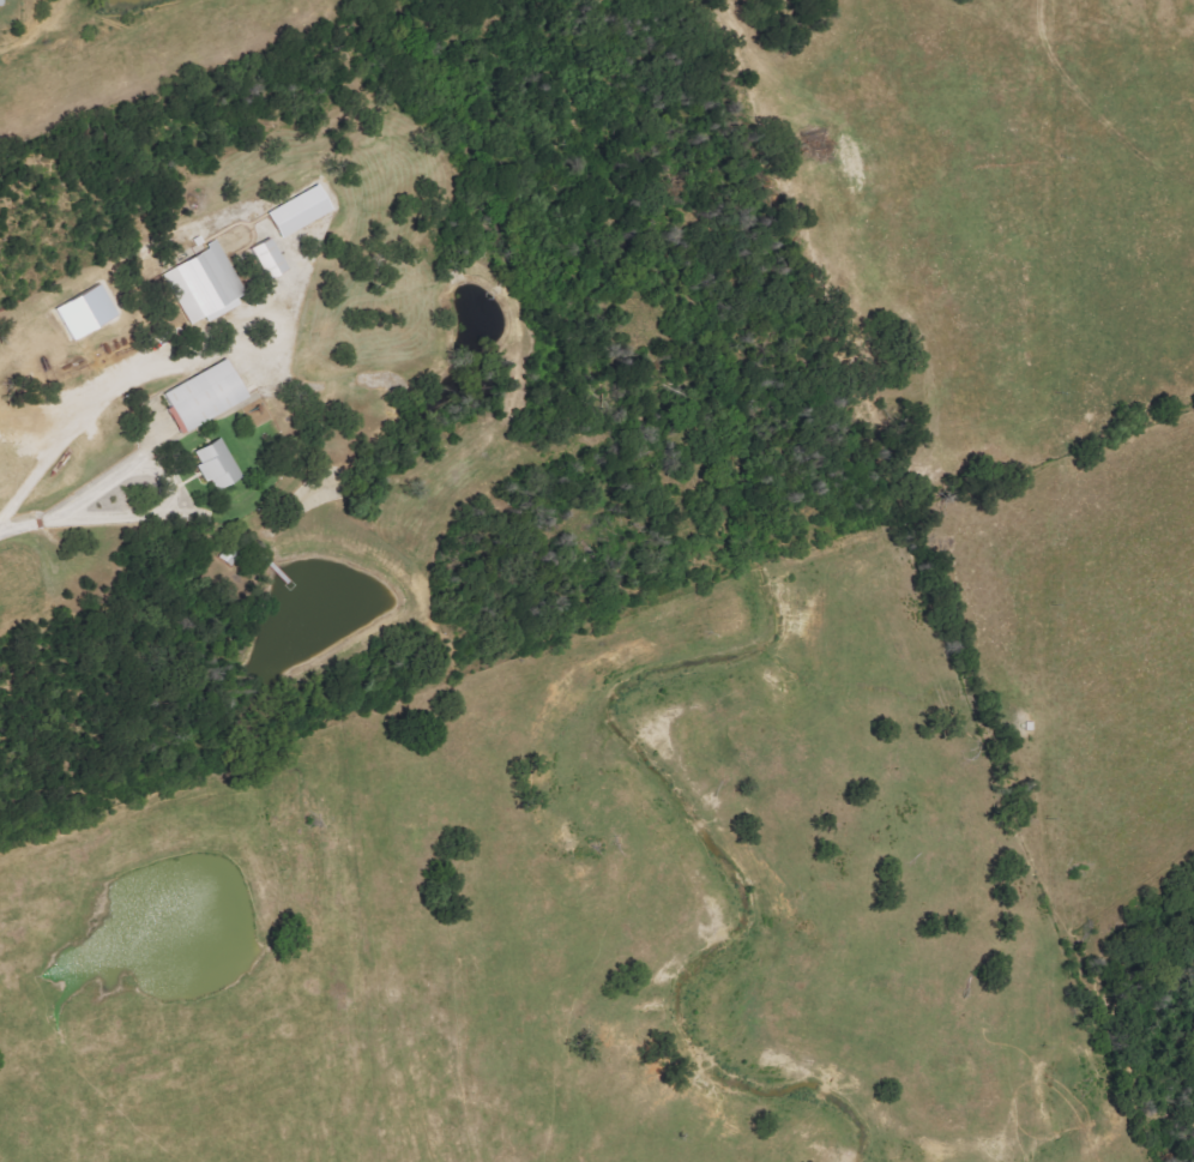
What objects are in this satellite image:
building: (0, 4)
building: (297, 210)
building: (267, 258)
building: (203, 282)
building: (84, 311)
road: (110, 390)
building: (203, 395)
building: (216, 463)
road: (171, 487)
road: (24, 531)

